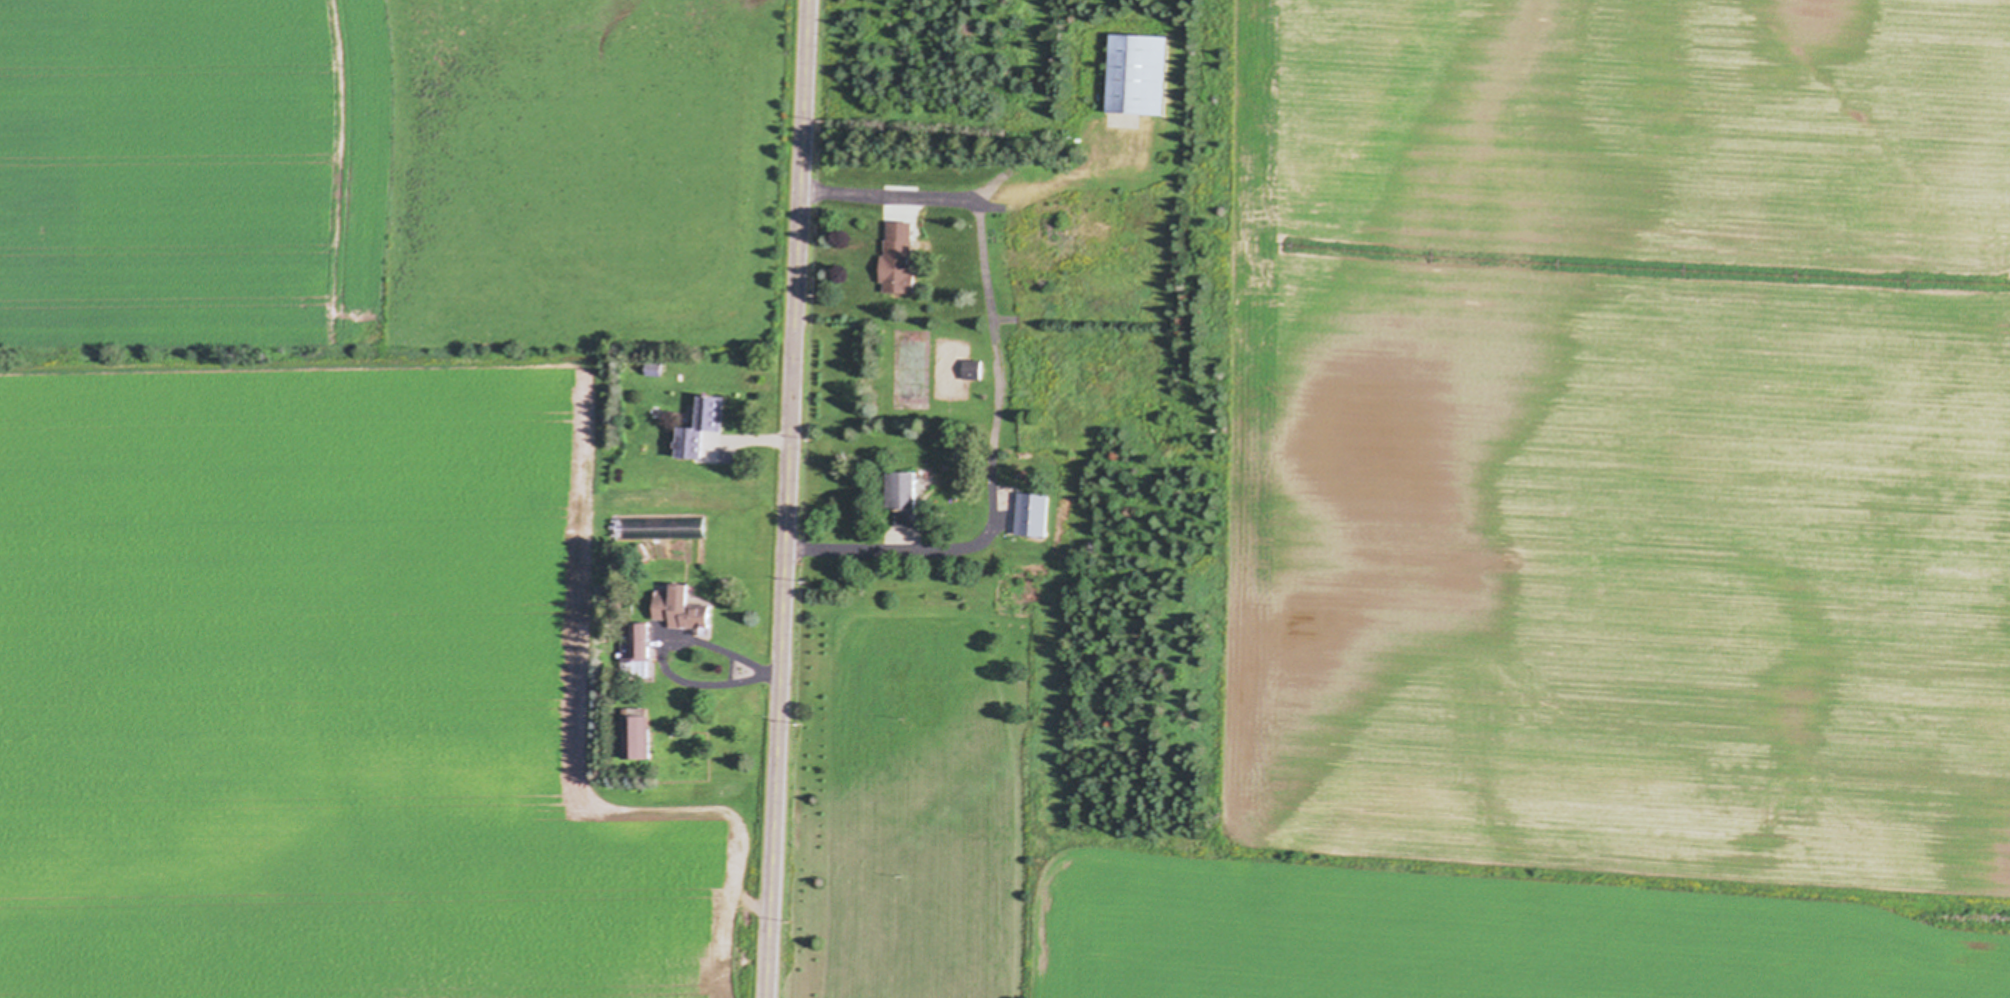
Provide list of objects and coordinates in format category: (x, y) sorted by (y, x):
building: (1139, 75)
building: (900, 257)
building: (973, 370)
road: (1001, 384)
building: (704, 433)
road: (762, 441)
building: (905, 497)
road: (786, 498)
building: (1033, 514)
building: (681, 609)
building: (642, 646)
road: (657, 655)
building: (638, 734)

